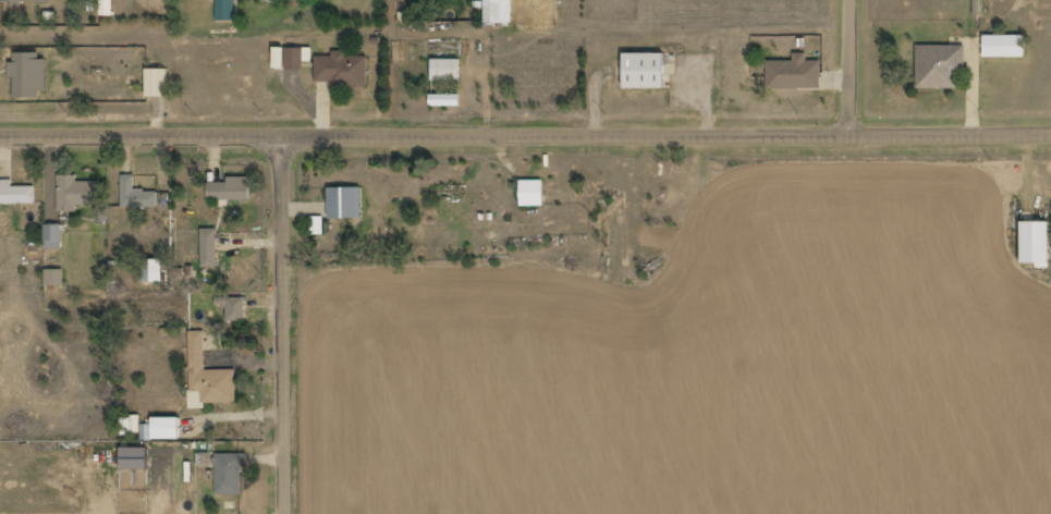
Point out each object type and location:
building: (26, 2)
building: (108, 8)
building: (224, 9)
building: (493, 11)
building: (1003, 45)
building: (279, 58)
building: (293, 60)
building: (939, 64)
road: (852, 68)
building: (445, 70)
building: (341, 71)
building: (644, 71)
building: (28, 75)
building: (793, 76)
building: (157, 83)
road: (525, 135)
building: (229, 187)
building: (72, 193)
building: (531, 193)
building: (15, 194)
building: (135, 195)
building: (344, 204)
building: (316, 225)
building: (52, 234)
building: (1035, 243)
building: (209, 247)
building: (151, 271)
building: (53, 277)
building: (232, 308)
road: (285, 325)
building: (207, 376)
building: (145, 437)
building: (229, 474)

